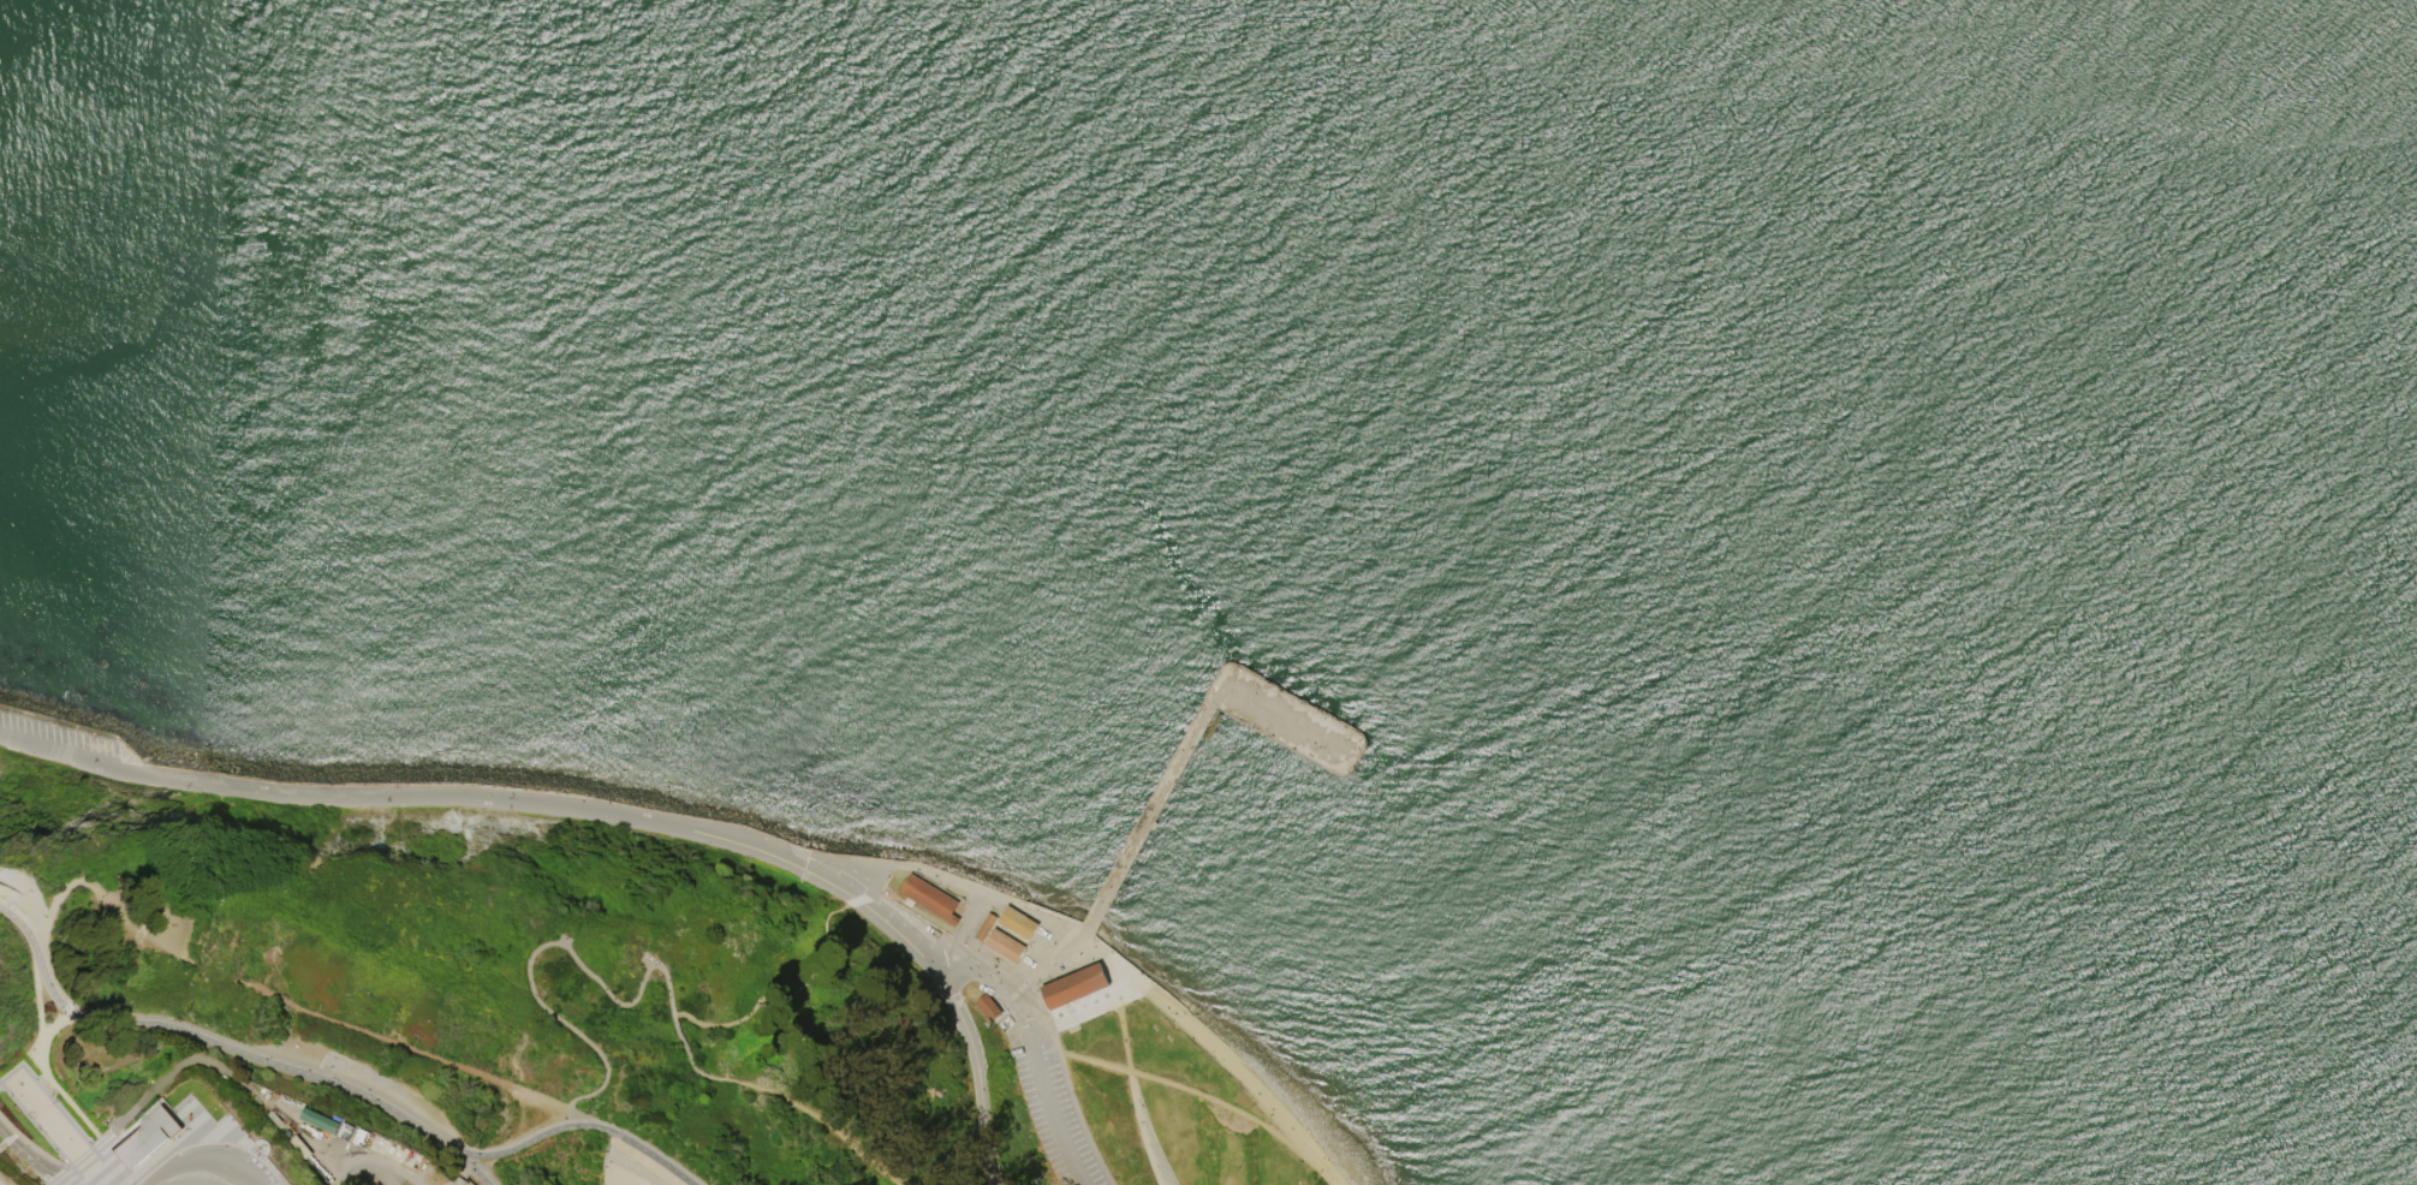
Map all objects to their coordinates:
road: (78, 731)
pier: (1362, 736)
parking lot: (59, 744)
road: (1190, 744)
road: (56, 751)
road: (127, 772)
road: (290, 796)
road: (619, 816)
pier: (1130, 850)
road: (837, 859)
road: (876, 880)
road: (826, 882)
road: (975, 889)
road: (4, 893)
building: (927, 898)
road: (22, 901)
road: (856, 901)
road: (29, 909)
road: (53, 910)
building: (1016, 922)
road: (23, 927)
building: (982, 927)
road: (958, 933)
road: (131, 934)
road: (897, 934)
road: (1083, 936)
building: (1001, 945)
road: (541, 946)
road: (1103, 959)
road: (1037, 960)
road: (38, 966)
road: (1002, 983)
road: (48, 985)
building: (1072, 985)
road: (1118, 988)
park: (570, 994)
building: (986, 1007)
road: (1072, 1018)
road: (42, 1028)
road: (1123, 1038)
road: (403, 1048)
road: (687, 1058)
road: (269, 1064)
road: (976, 1073)
road: (48, 1077)
road: (227, 1077)
road: (1249, 1079)
road: (1184, 1089)
road: (35, 1094)
parking lot: (1052, 1103)
road: (816, 1116)
road: (583, 1119)
road: (1052, 1119)
road: (41, 1120)
building: (320, 1121)
road: (578, 1126)
road: (1139, 1129)
building: (346, 1132)
road: (175, 1133)
road: (208, 1133)
road: (42, 1136)
road: (11, 1138)
building: (144, 1139)
road: (32, 1147)
building: (298, 1147)
road: (625, 1148)
road: (28, 1153)
road: (83, 1160)
road: (352, 1160)
road: (112, 1162)
road: (197, 1168)
parking lot: (210, 1168)
road: (471, 1169)
building: (430, 1171)
road: (399, 1173)
road: (387, 1174)
road: (66, 1179)
road: (184, 1183)
road: (618, 1183)
road: (0, 1184)

